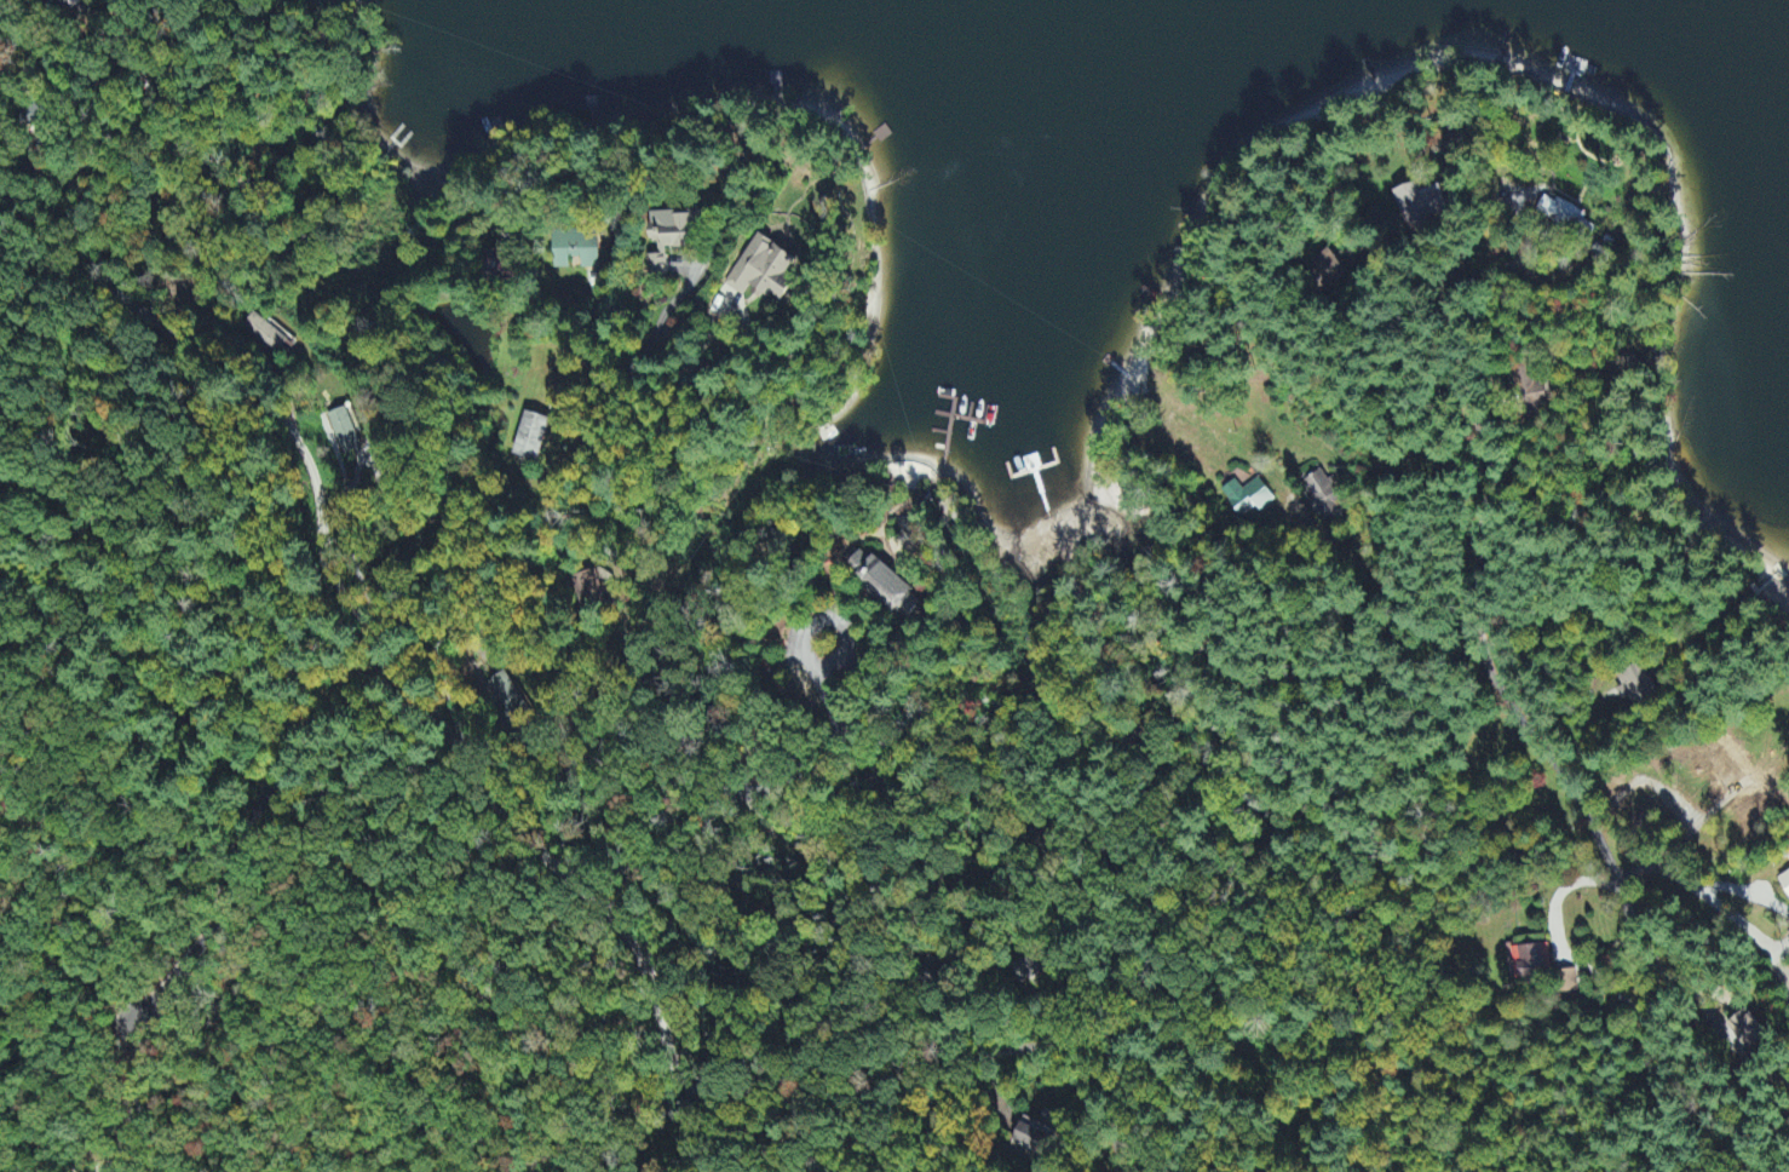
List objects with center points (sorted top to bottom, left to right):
road: (53, 162)
building: (1421, 207)
building: (1560, 216)
building: (672, 236)
building: (576, 249)
building: (763, 272)
building: (1325, 272)
building: (269, 338)
road: (1407, 352)
building: (1530, 391)
building: (343, 431)
building: (530, 438)
road: (1454, 463)
building: (1324, 494)
building: (1248, 498)
road: (1364, 546)
road: (606, 571)
building: (885, 586)
road: (1497, 688)
building: (1635, 688)
building: (507, 700)
road: (489, 794)
road: (1310, 794)
road: (1575, 797)
road: (1689, 831)
road: (788, 849)
building: (1784, 884)
road: (1748, 892)
road: (1709, 896)
road: (415, 914)
road: (1634, 924)
road: (1560, 940)
road: (1782, 952)
building: (1532, 963)
road: (1784, 972)
building: (1566, 983)
road: (1783, 990)
road: (1048, 1017)
road: (1719, 1025)
building: (1747, 1032)
road: (1018, 1049)
road: (1644, 1062)
road: (1322, 1075)
road: (991, 1090)
road: (1103, 1107)
building: (1031, 1136)
road: (1028, 1156)

